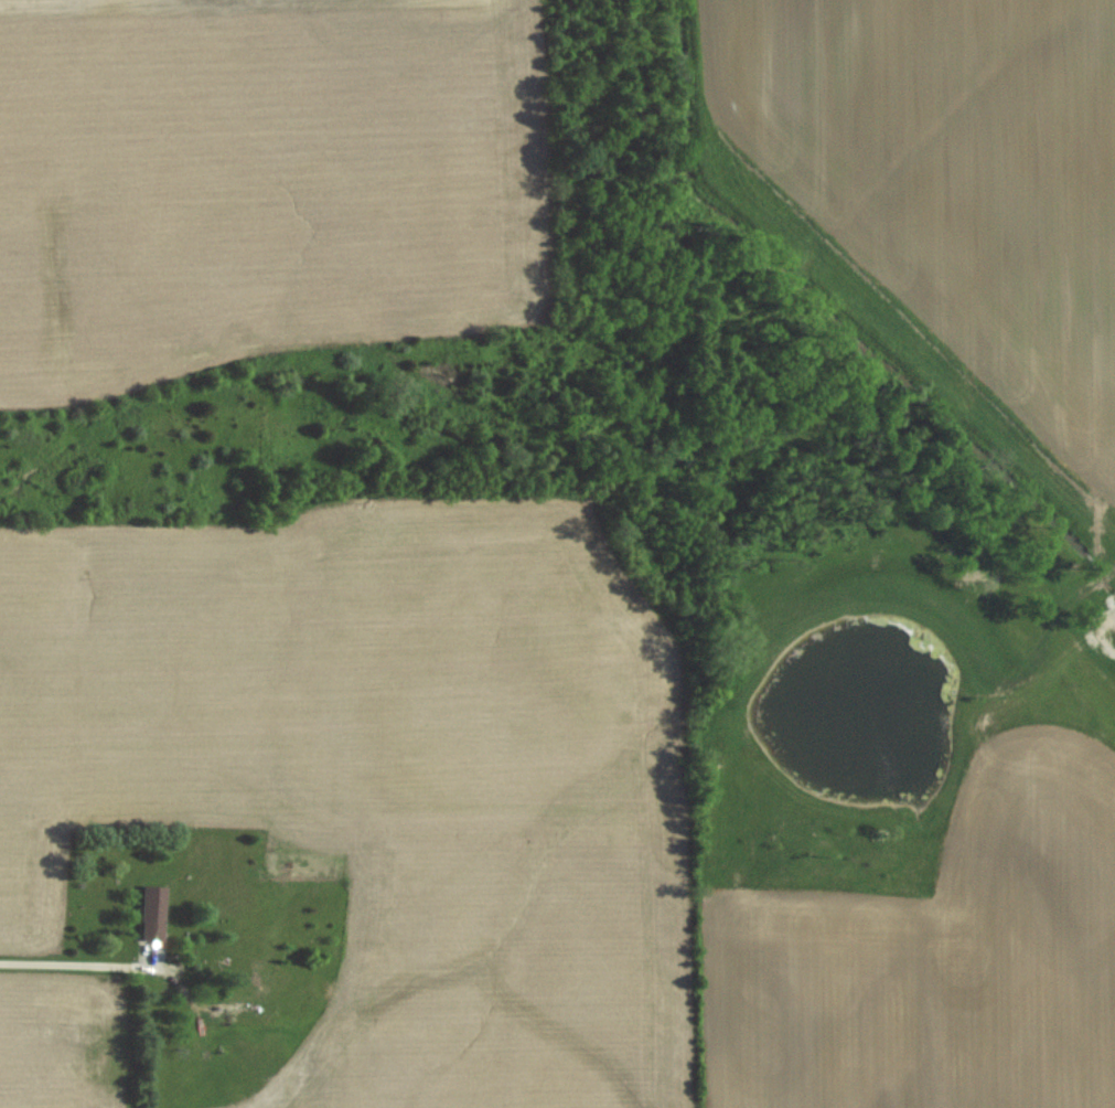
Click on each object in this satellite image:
building: (153, 912)
road: (75, 959)

